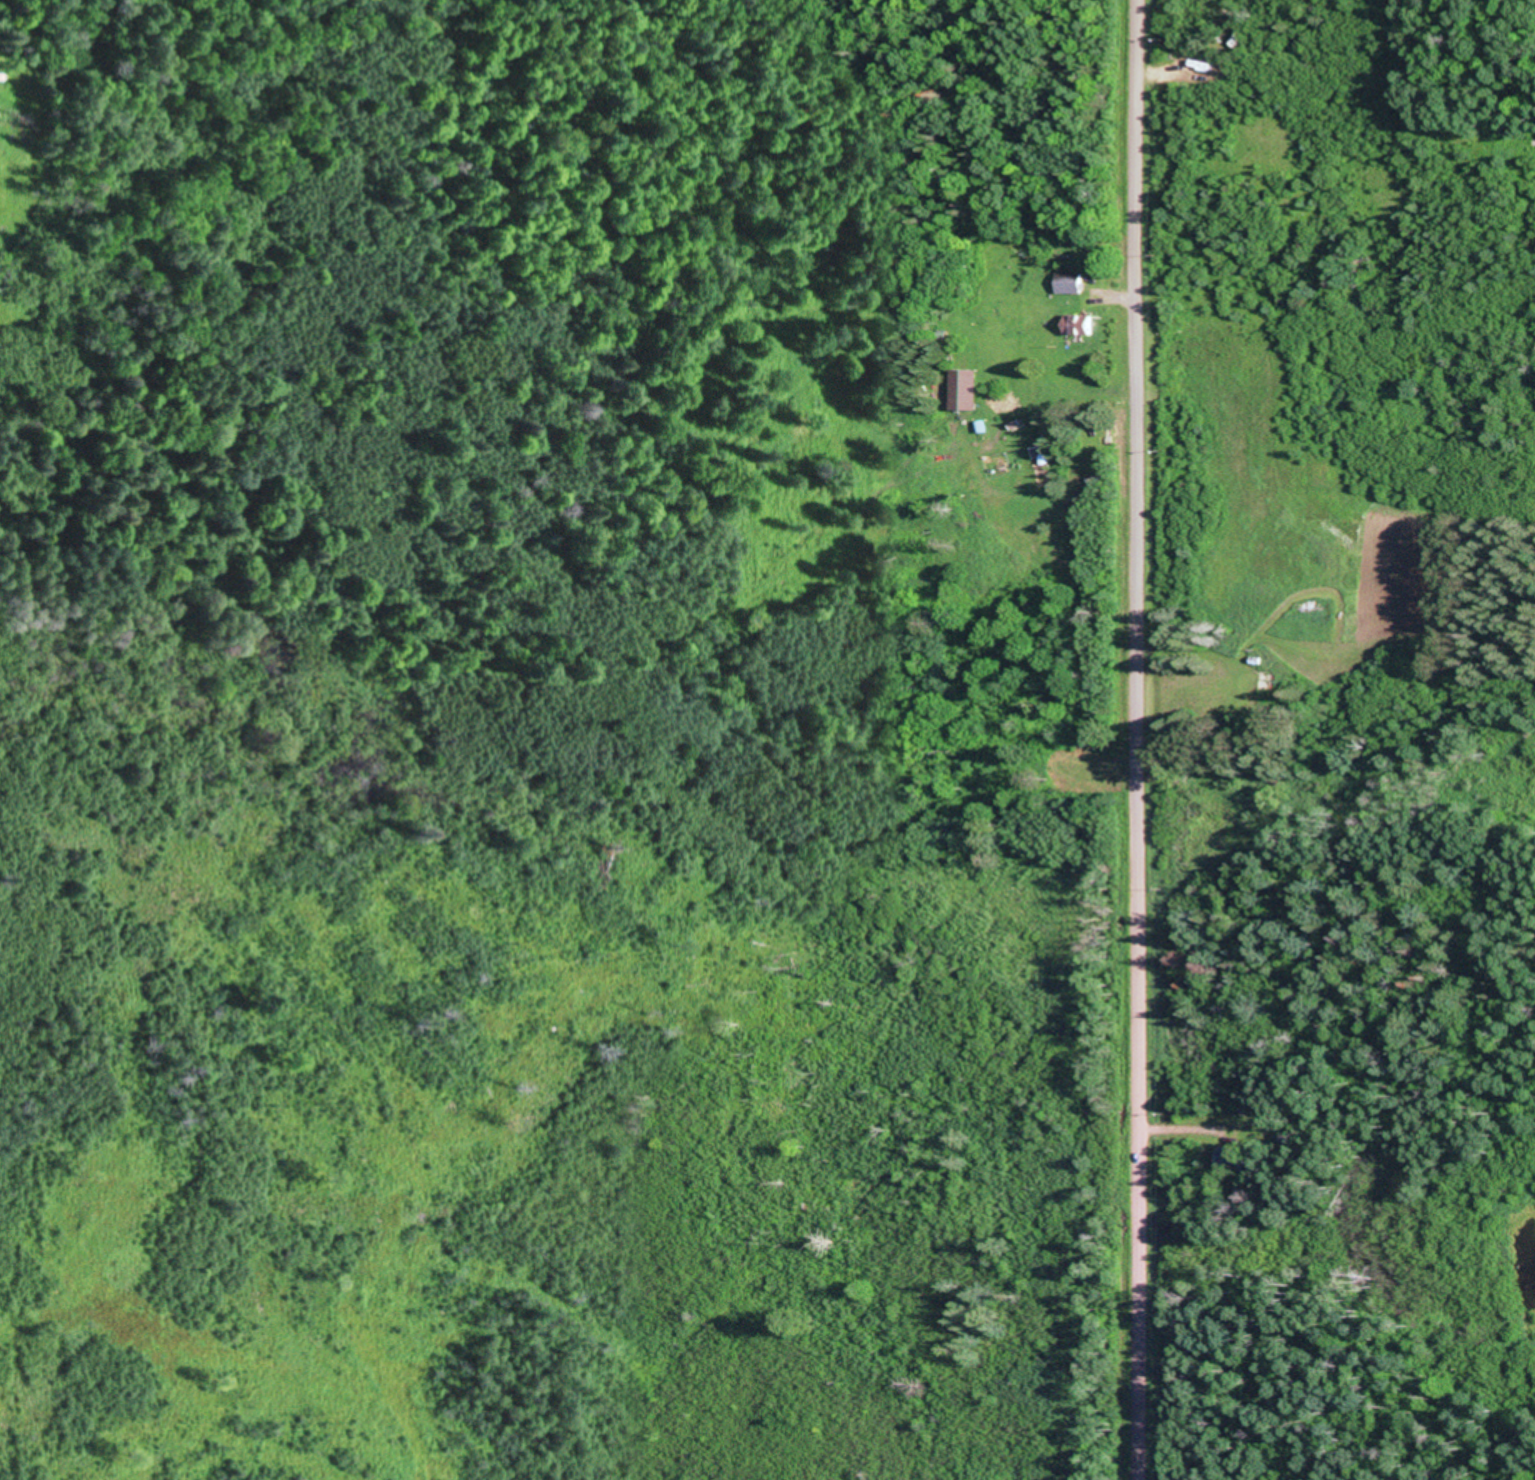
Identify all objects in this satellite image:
building: (1076, 281)
building: (1085, 323)
building: (969, 388)
building: (1269, 684)
road: (1147, 739)
building: (1235, 1157)

